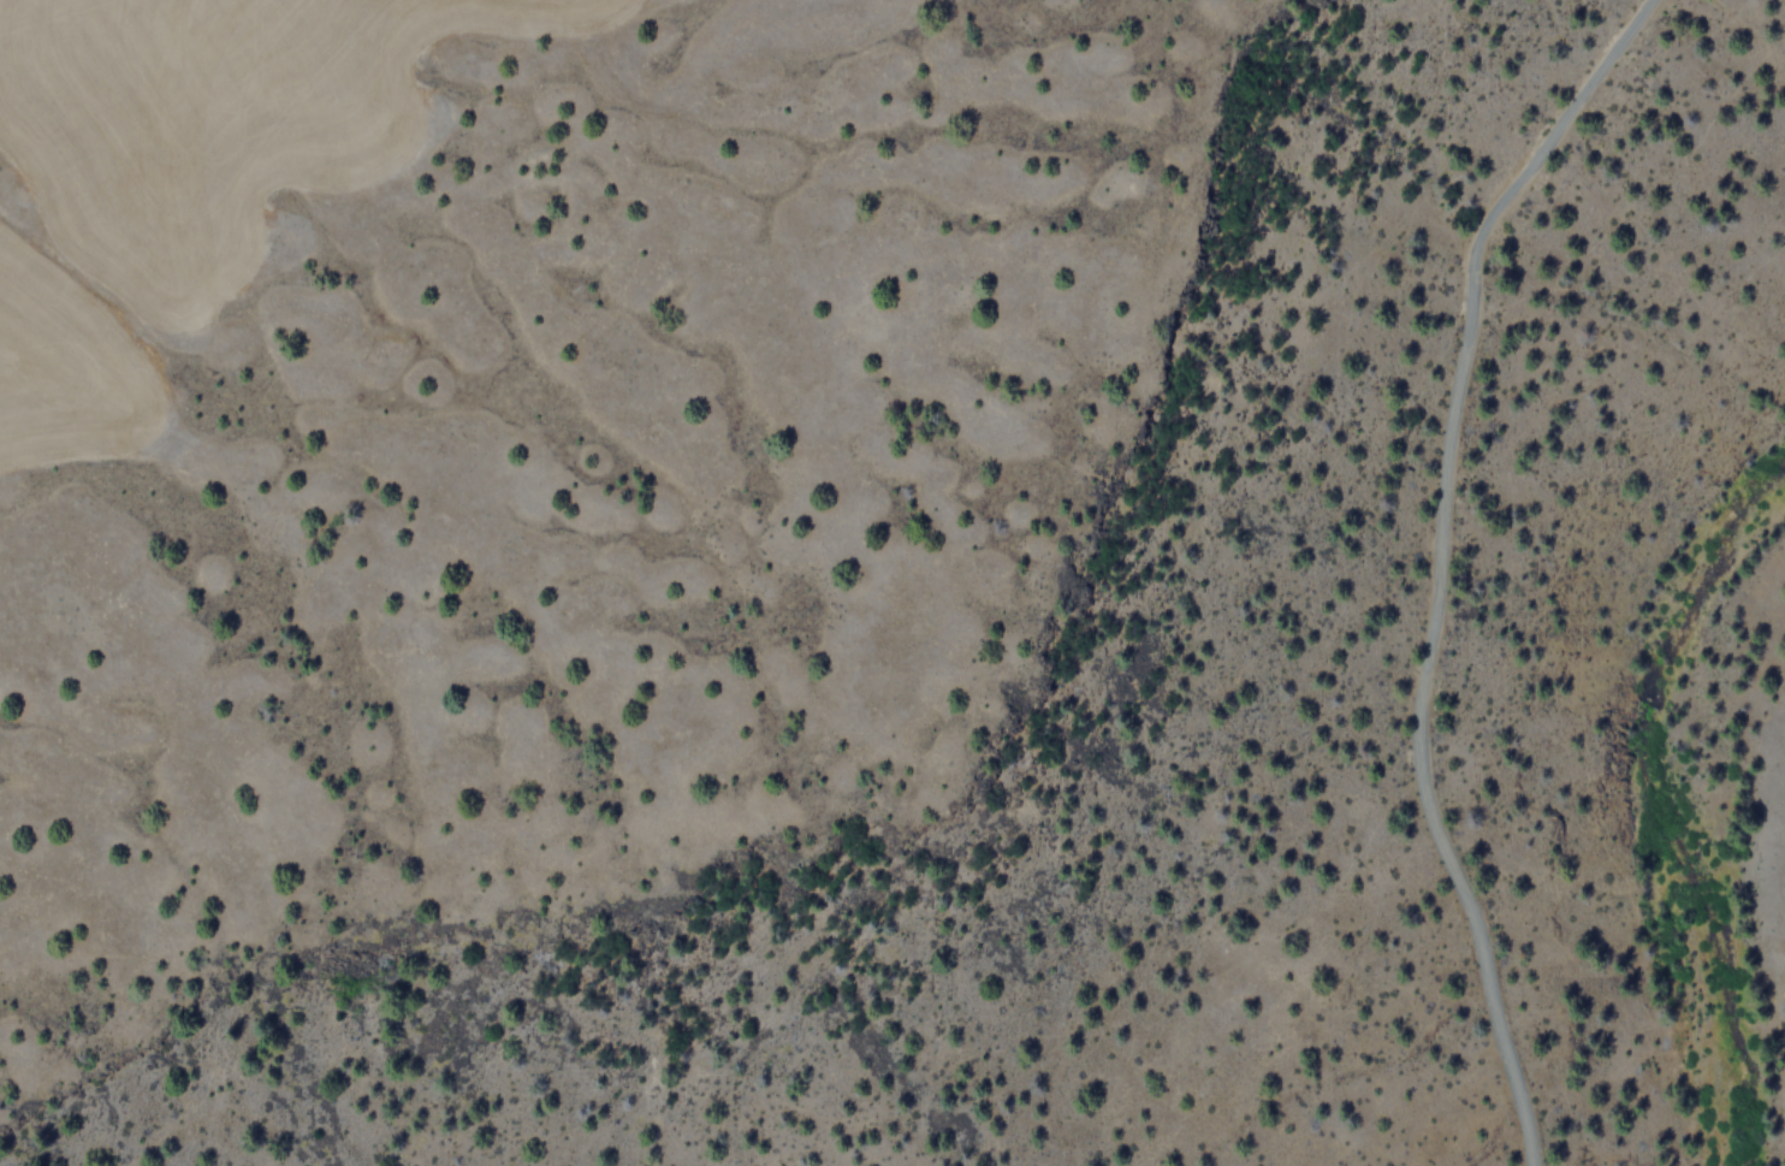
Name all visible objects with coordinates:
road: (1439, 563)

